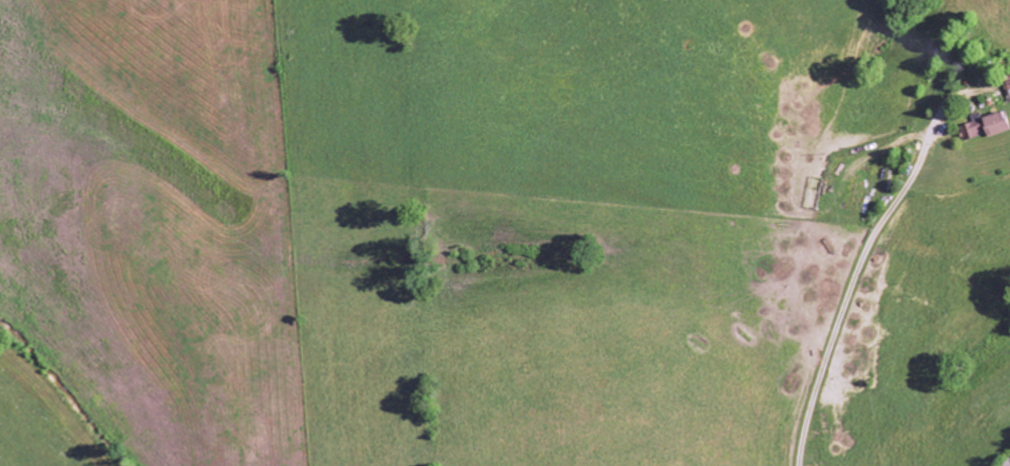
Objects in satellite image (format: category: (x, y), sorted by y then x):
building: (985, 128)
road: (1009, 465)

